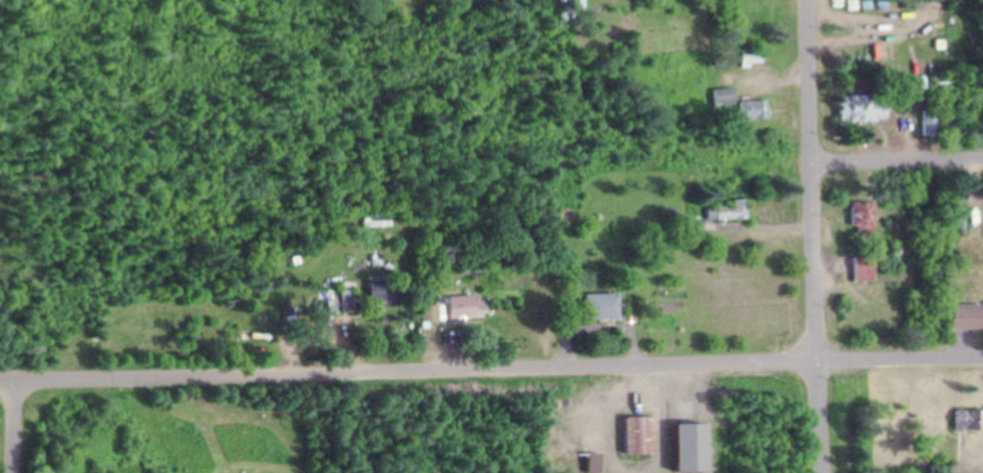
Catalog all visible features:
road: (896, 164)
road: (811, 236)
road: (491, 370)
road: (10, 427)

